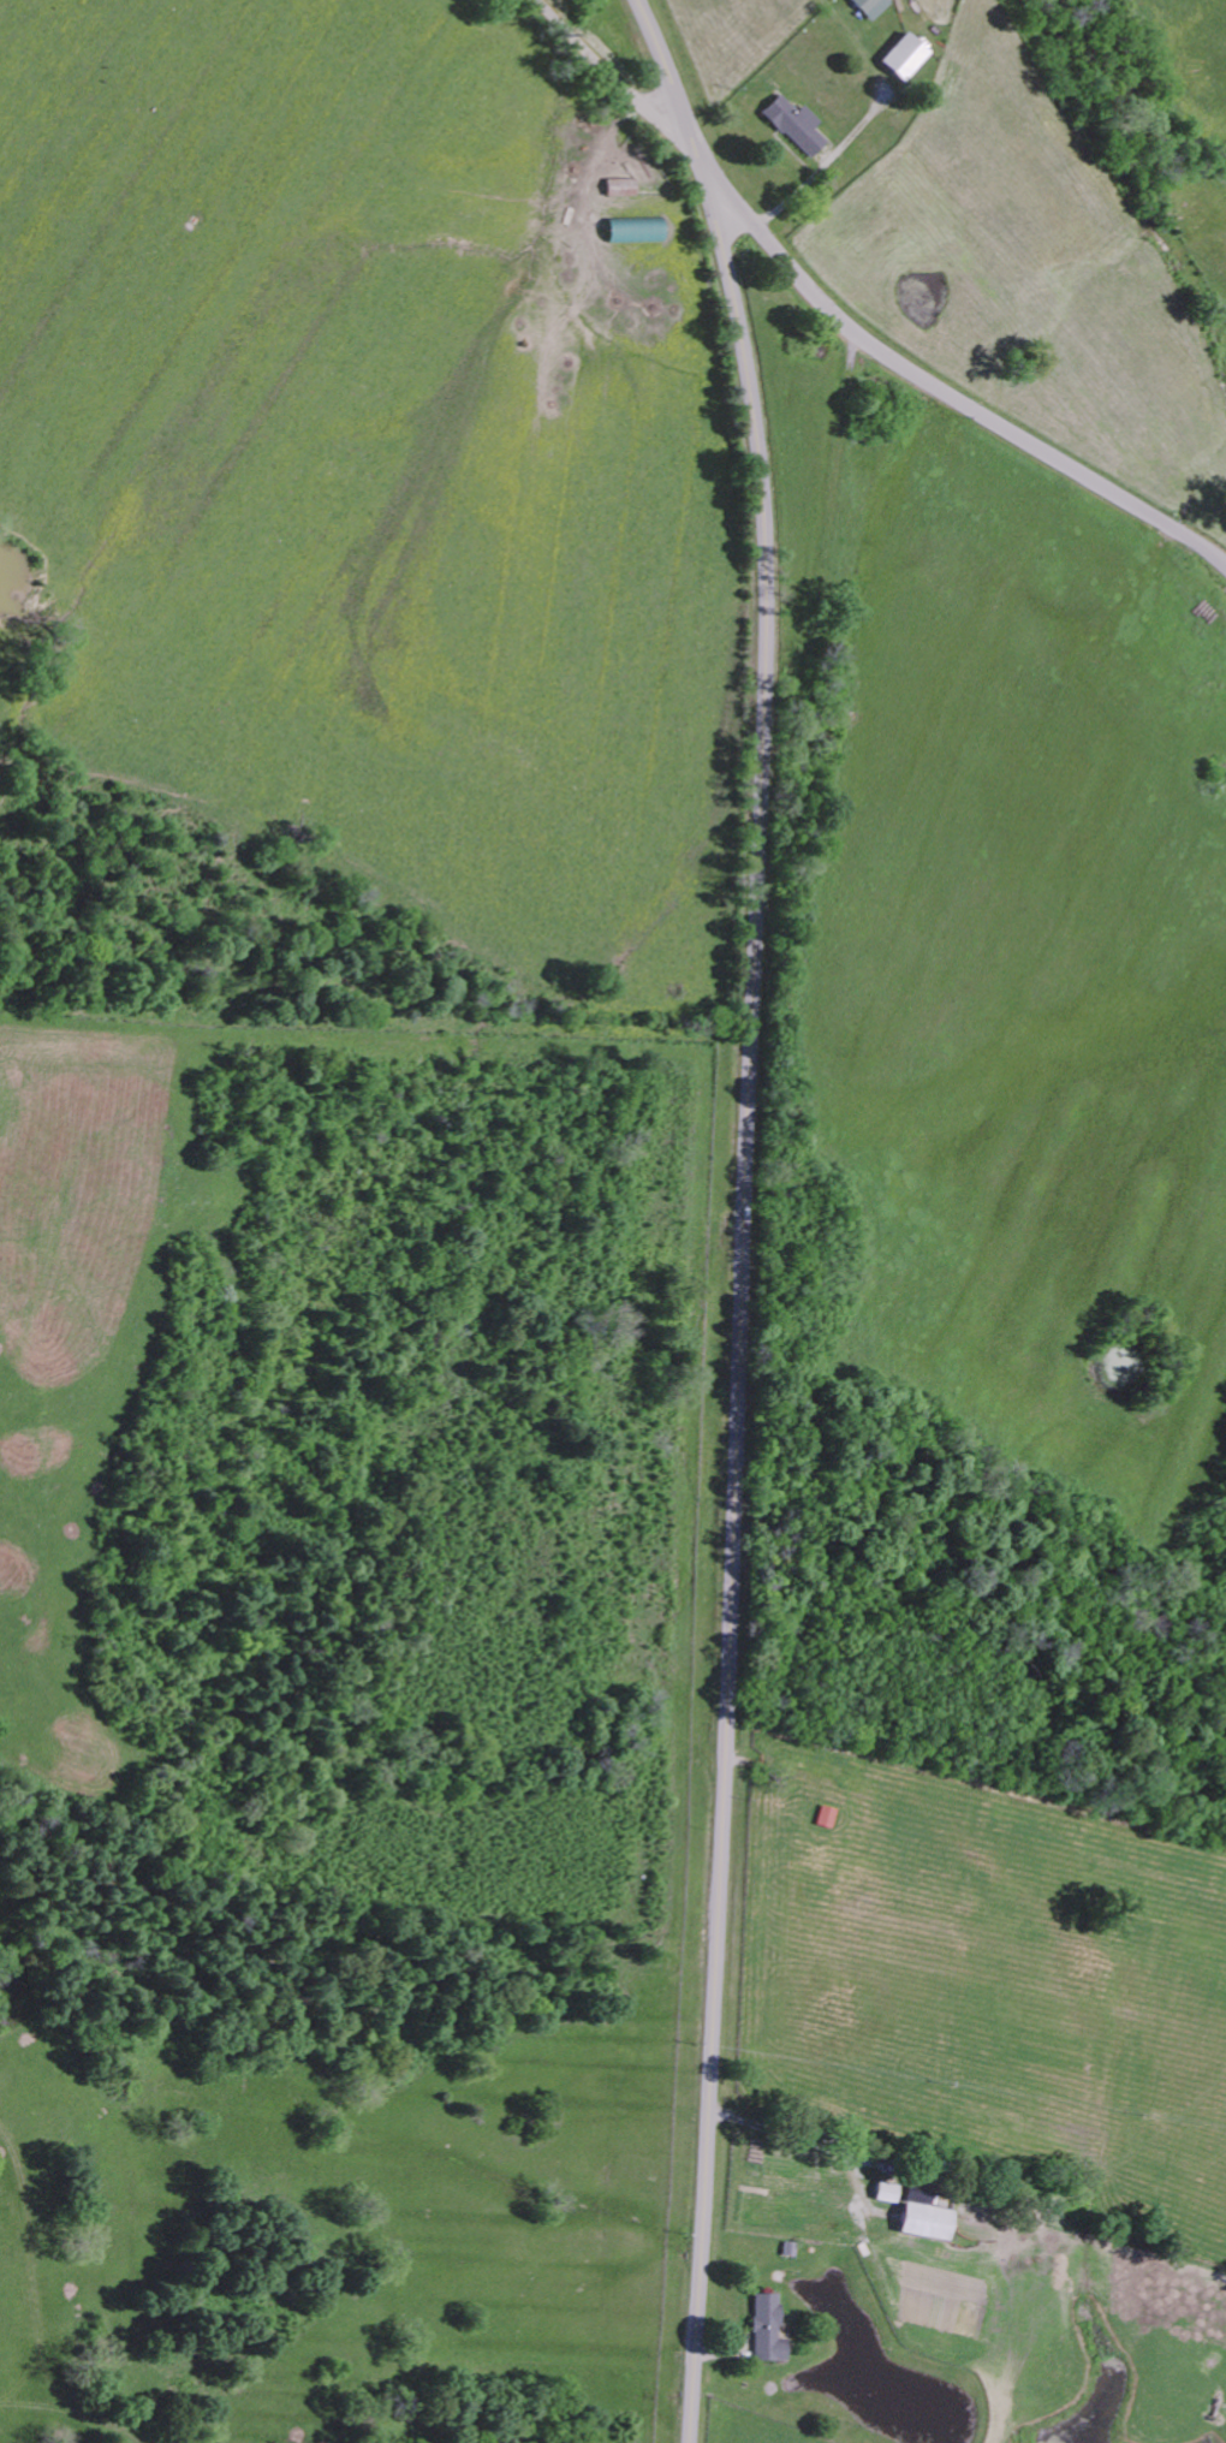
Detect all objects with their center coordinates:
building: (869, 7)
building: (900, 57)
building: (793, 125)
road: (849, 323)
road: (748, 1212)
building: (825, 1817)
road: (808, 2141)
building: (885, 2193)
building: (922, 2222)
building: (767, 2330)

